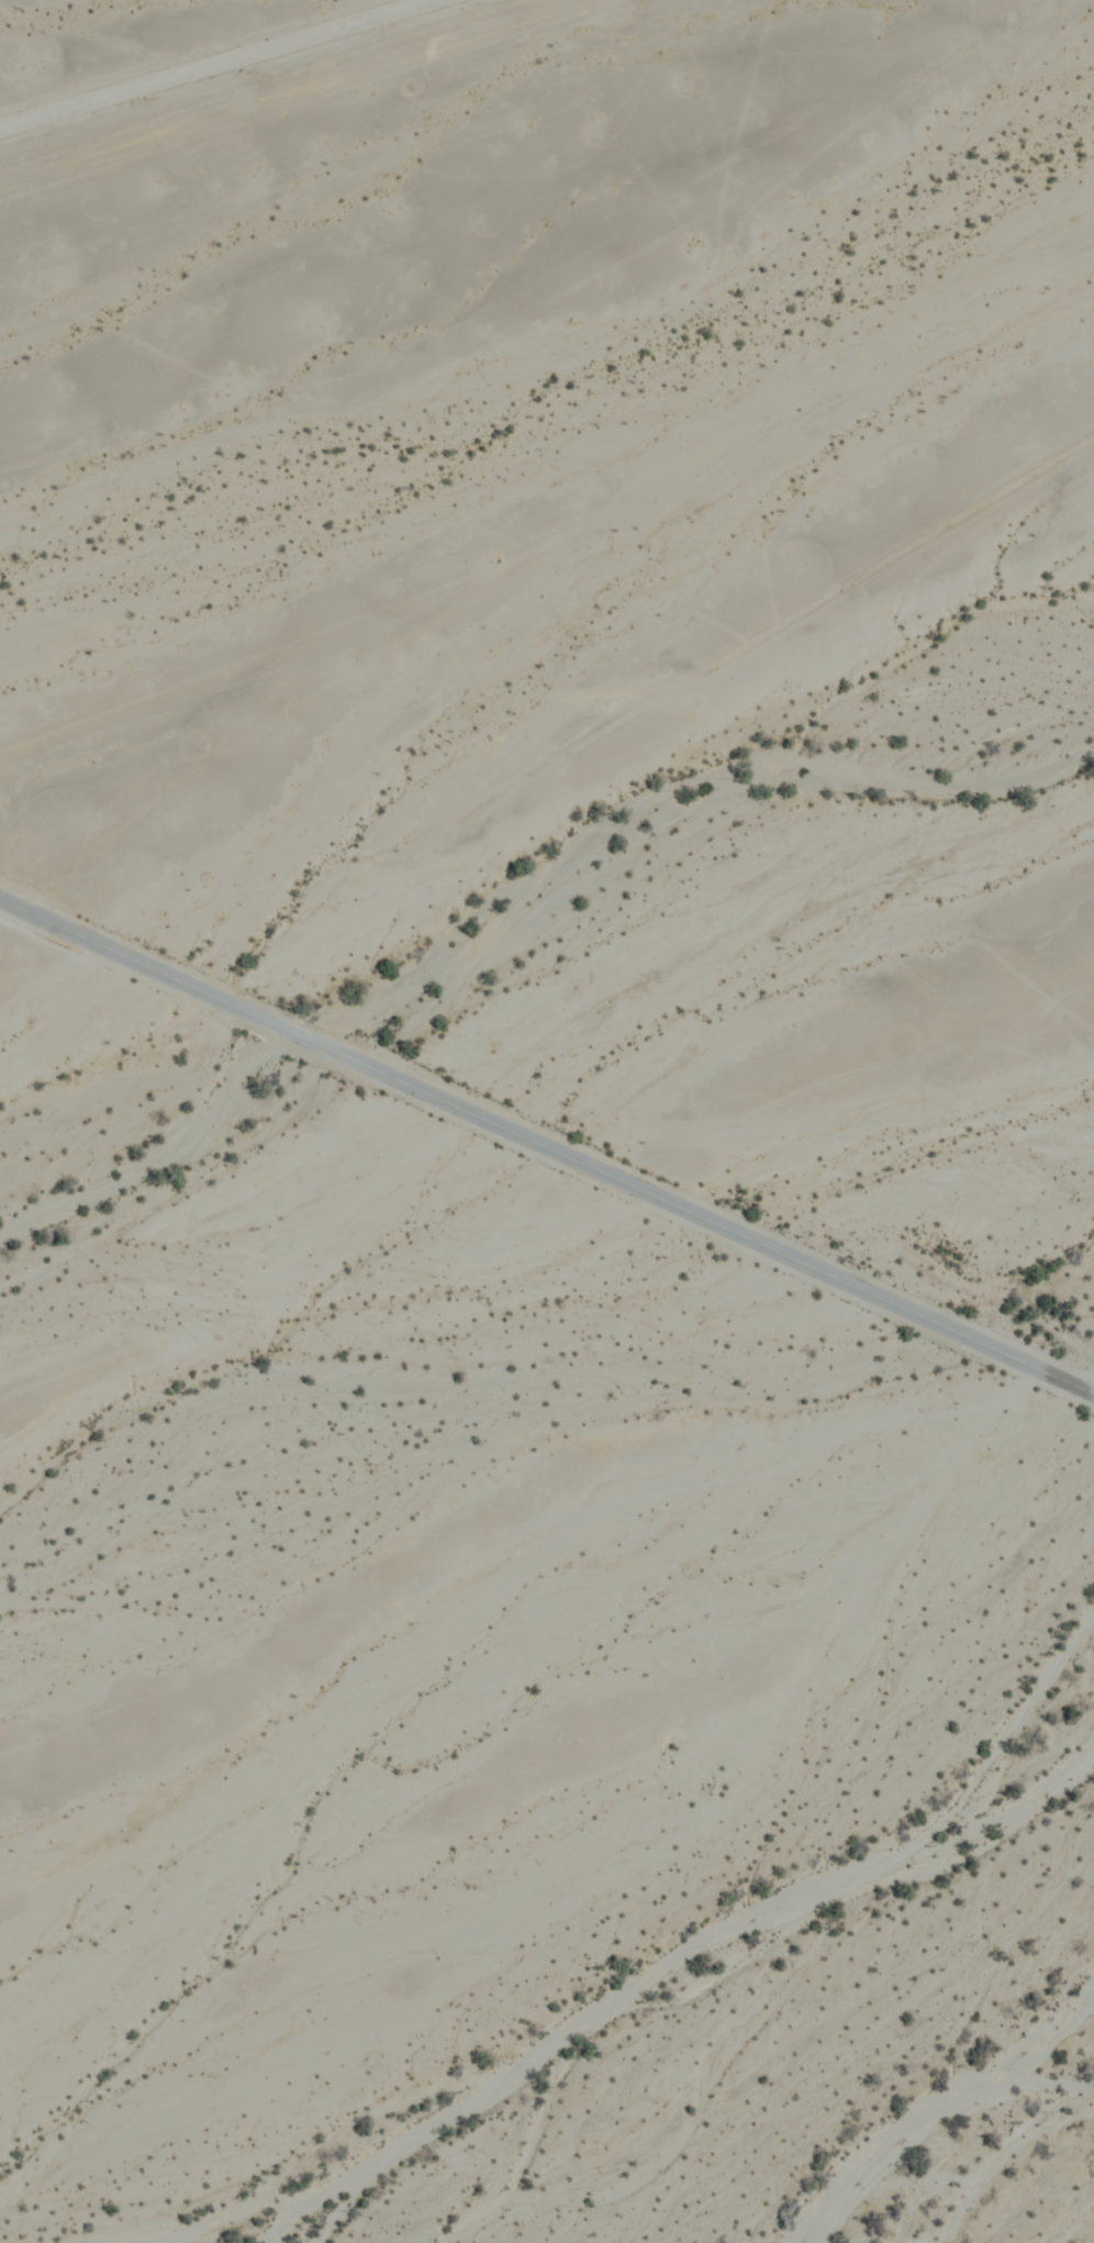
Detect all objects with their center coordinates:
road: (289, 91)
road: (547, 1150)

